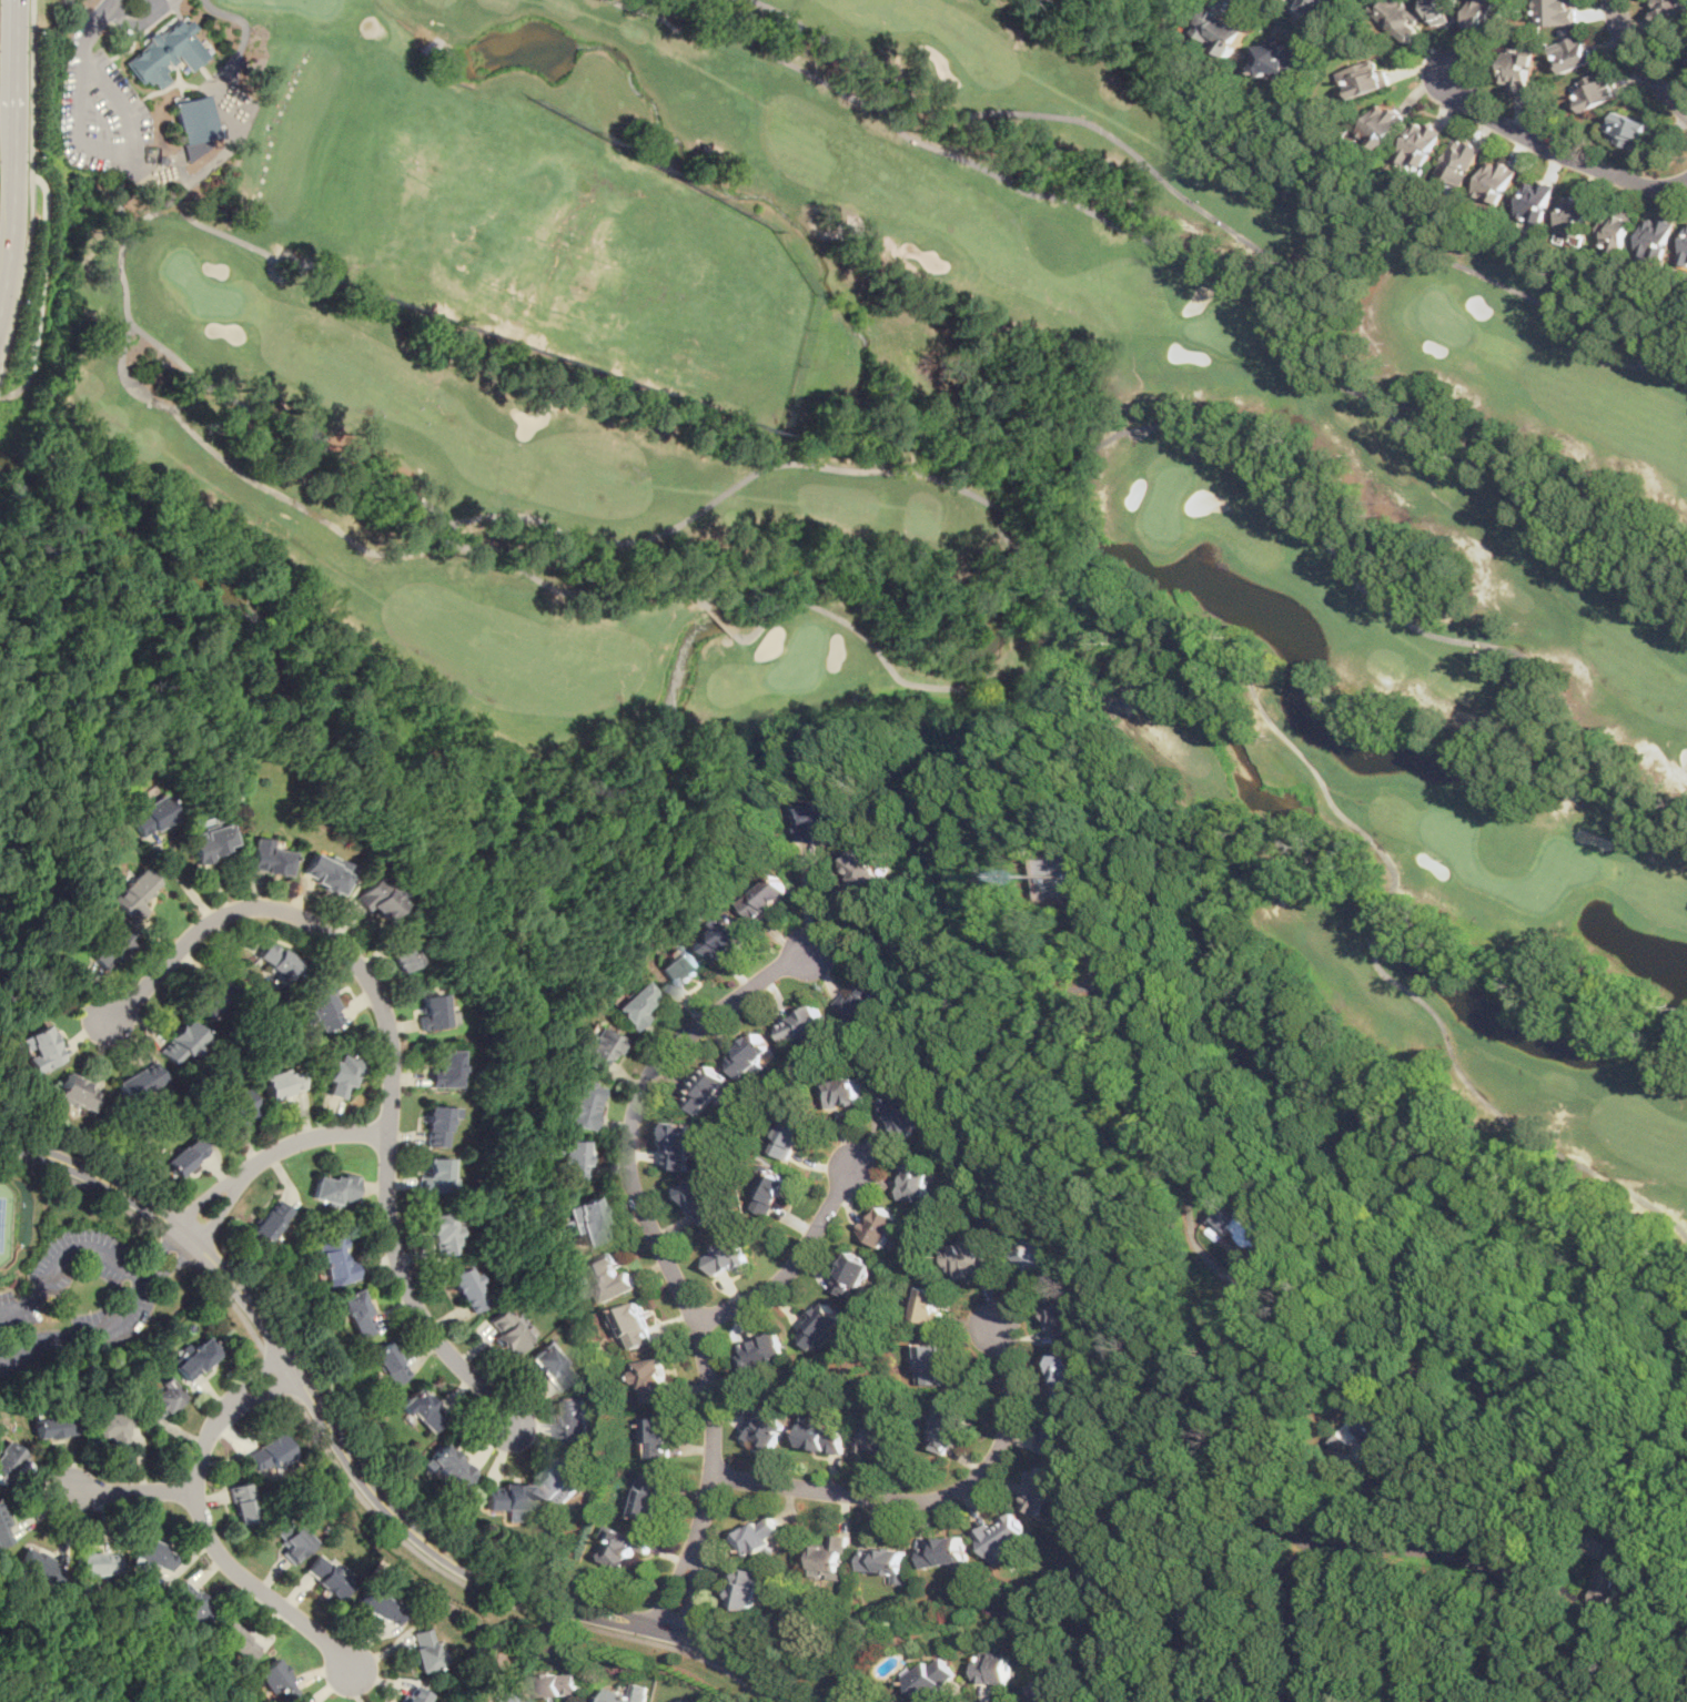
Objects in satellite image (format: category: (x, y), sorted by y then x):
building: (1180, 2)
building: (1314, 7)
building: (1443, 10)
building: (1669, 11)
building: (1557, 12)
building: (1486, 14)
building: (1401, 17)
road: (135, 24)
road: (90, 27)
building: (1220, 29)
road: (17, 52)
building: (1574, 53)
building: (163, 58)
building: (1277, 58)
road: (1638, 62)
building: (1518, 69)
building: (1365, 78)
road: (30, 88)
building: (1594, 90)
building: (1383, 123)
building: (194, 125)
building: (1627, 130)
building: (1421, 143)
road: (1553, 151)
road: (119, 152)
building: (1458, 161)
building: (1495, 181)
building: (1536, 202)
road: (12, 206)
building: (1575, 216)
building: (1615, 231)
building: (1655, 239)
building: (1684, 251)
road: (19, 266)
road: (39, 293)
park: (908, 484)
building: (150, 815)
building: (816, 818)
building: (212, 842)
building: (267, 858)
building: (865, 869)
building: (1057, 871)
building: (325, 873)
building: (135, 893)
building: (768, 894)
road: (805, 896)
building: (377, 900)
road: (301, 918)
building: (729, 935)
building: (111, 948)
building: (400, 952)
building: (276, 959)
building: (681, 966)
building: (218, 999)
building: (860, 1003)
building: (635, 1004)
building: (322, 1010)
building: (431, 1011)
building: (802, 1024)
building: (181, 1044)
building: (595, 1047)
building: (42, 1048)
building: (752, 1053)
building: (442, 1067)
building: (340, 1076)
building: (139, 1082)
building: (281, 1084)
building: (707, 1087)
building: (842, 1091)
building: (77, 1094)
building: (578, 1104)
building: (236, 1108)
building: (902, 1111)
building: (436, 1123)
building: (789, 1135)
building: (684, 1144)
road: (271, 1153)
building: (184, 1156)
building: (570, 1161)
building: (434, 1175)
building: (916, 1178)
road: (81, 1185)
building: (334, 1189)
building: (770, 1191)
building: (701, 1198)
building: (270, 1220)
building: (585, 1222)
park: (7, 1223)
building: (1250, 1224)
building: (880, 1225)
building: (443, 1234)
road: (175, 1245)
road: (664, 1252)
building: (970, 1255)
building: (727, 1256)
building: (1039, 1257)
building: (335, 1260)
road: (791, 1264)
building: (852, 1272)
road: (148, 1273)
road: (149, 1273)
building: (608, 1276)
building: (467, 1289)
road: (408, 1295)
road: (246, 1300)
road: (233, 1303)
building: (932, 1303)
building: (356, 1313)
building: (1062, 1317)
building: (634, 1323)
building: (821, 1325)
building: (507, 1333)
building: (760, 1350)
building: (198, 1359)
building: (931, 1361)
building: (390, 1362)
building: (550, 1367)
road: (279, 1371)
road: (256, 1375)
building: (1065, 1375)
building: (654, 1378)
road: (270, 1391)
building: (160, 1396)
road: (1262, 1408)
building: (423, 1410)
building: (577, 1417)
building: (53, 1426)
building: (110, 1427)
building: (766, 1427)
building: (944, 1427)
building: (1060, 1431)
building: (824, 1433)
building: (659, 1435)
building: (881, 1436)
building: (272, 1453)
building: (9, 1460)
building: (449, 1468)
building: (565, 1476)
road: (1416, 1478)
building: (1042, 1489)
road: (124, 1491)
building: (650, 1493)
road: (932, 1498)
building: (508, 1499)
building: (243, 1505)
building: (6, 1528)
building: (760, 1534)
building: (1003, 1534)
building: (293, 1543)
building: (624, 1543)
building: (944, 1550)
building: (154, 1554)
road: (1463, 1554)
building: (830, 1556)
road: (222, 1559)
building: (887, 1560)
building: (98, 1563)
building: (40, 1564)
building: (1608, 1573)
building: (326, 1578)
road: (535, 1581)
building: (749, 1586)
road: (497, 1599)
road: (527, 1599)
building: (191, 1603)
building: (380, 1608)
road: (1526, 1631)
building: (236, 1641)
road: (110, 1643)
building: (425, 1649)
road: (724, 1652)
building: (992, 1665)
building: (930, 1676)
building: (276, 1680)
building: (558, 1682)
building: (1047, 1690)
building: (624, 1693)
building: (414, 1694)
building: (512, 1696)
building: (664, 1701)

